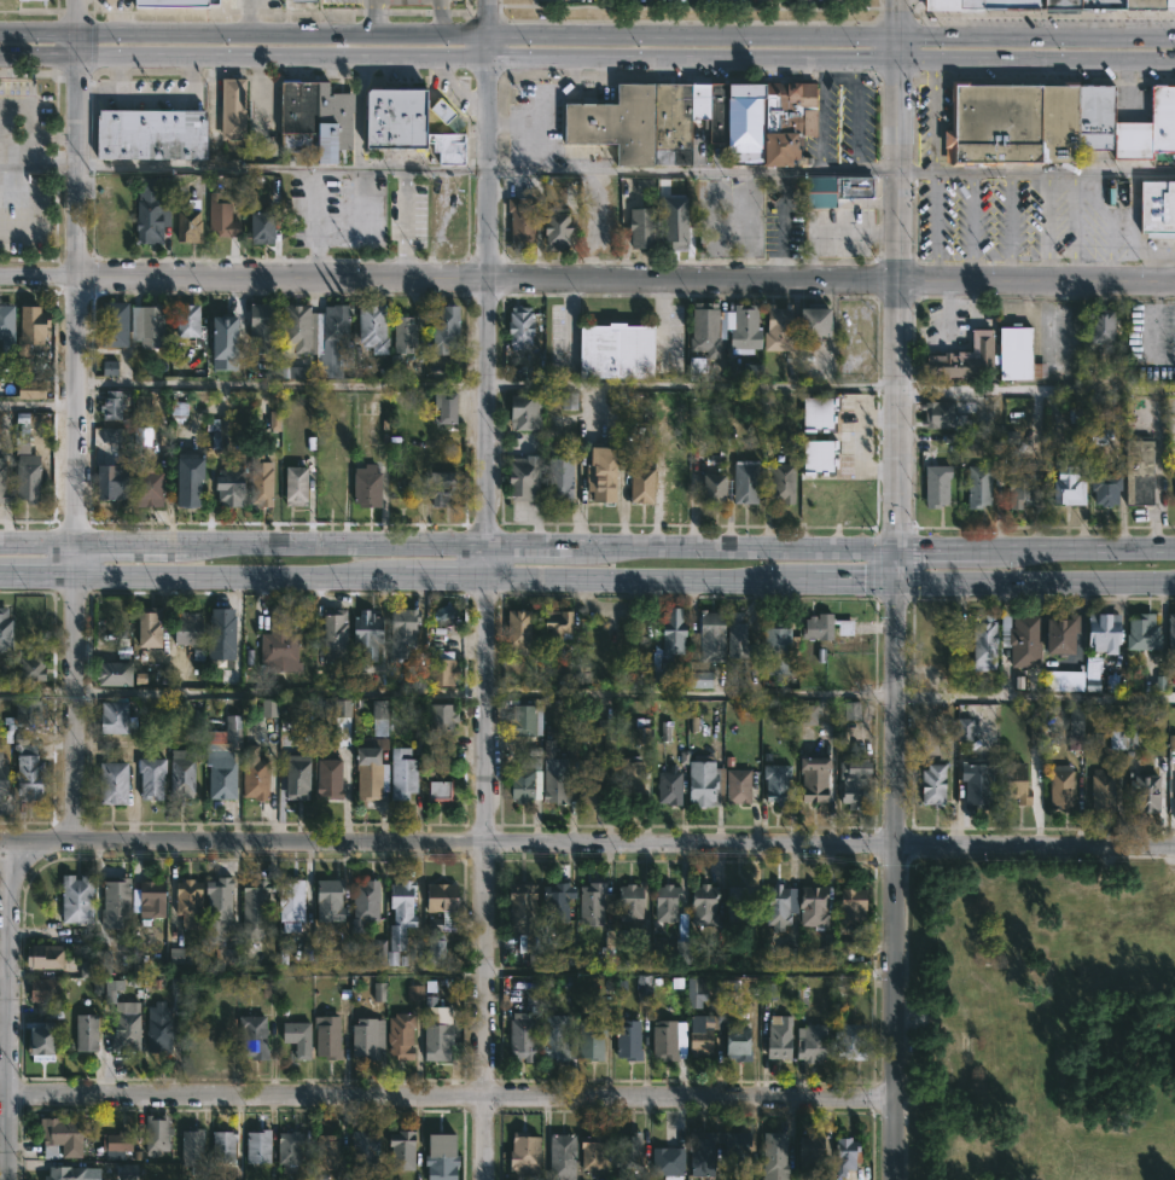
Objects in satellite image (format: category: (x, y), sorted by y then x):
building: (43, 0)
building: (303, 0)
building: (111, 1)
building: (179, 2)
parking lot: (688, 2)
building: (1098, 2)
building: (995, 4)
building: (1058, 4)
building: (938, 5)
building: (1147, 5)
road: (81, 18)
road: (249, 18)
road: (372, 19)
road: (438, 19)
road: (489, 19)
road: (901, 19)
road: (40, 35)
road: (285, 37)
road: (694, 40)
traffic signals: (901, 40)
road: (1037, 40)
road: (81, 46)
road: (489, 48)
road: (901, 50)
road: (40, 56)
road: (285, 57)
road: (694, 59)
traffic signals: (901, 60)
road: (1037, 60)
road: (389, 80)
road: (449, 94)
road: (147, 95)
road: (97, 97)
building: (231, 107)
building: (1094, 116)
building: (1158, 117)
building: (1171, 117)
building: (312, 120)
building: (661, 120)
building: (785, 121)
building: (403, 123)
building: (1010, 124)
building: (155, 134)
building: (1130, 140)
road: (40, 164)
road: (81, 165)
road: (197, 167)
road: (367, 167)
road: (343, 168)
road: (693, 170)
road: (935, 170)
road: (1036, 172)
building: (228, 182)
building: (116, 185)
building: (832, 188)
building: (1115, 192)
building: (1156, 209)
building: (152, 211)
building: (109, 221)
road: (405, 221)
building: (518, 222)
road: (1110, 222)
building: (226, 223)
building: (192, 225)
road: (972, 225)
building: (257, 226)
road: (1010, 226)
road: (1045, 226)
road: (1078, 226)
road: (1134, 226)
building: (553, 227)
building: (638, 227)
building: (671, 231)
road: (1161, 261)
road: (40, 274)
road: (628, 278)
road: (488, 302)
road: (896, 303)
building: (191, 320)
building: (809, 322)
building: (112, 324)
building: (150, 326)
building: (441, 326)
building: (516, 326)
building: (1095, 326)
building: (8, 327)
building: (257, 327)
building: (368, 327)
building: (741, 327)
building: (704, 329)
building: (775, 329)
building: (35, 330)
building: (295, 330)
building: (402, 335)
building: (327, 341)
building: (225, 343)
building: (612, 350)
building: (1014, 354)
building: (961, 359)
building: (109, 368)
building: (295, 372)
road: (283, 380)
road: (692, 383)
building: (34, 389)
road: (1035, 389)
building: (569, 400)
road: (39, 405)
building: (114, 406)
road: (77, 407)
building: (444, 407)
building: (518, 412)
building: (818, 412)
building: (941, 417)
building: (274, 420)
building: (111, 434)
building: (1097, 437)
building: (819, 455)
building: (109, 473)
building: (1136, 473)
building: (598, 475)
building: (519, 477)
building: (185, 479)
building: (557, 479)
building: (743, 481)
building: (30, 482)
building: (781, 482)
building: (5, 483)
building: (260, 483)
building: (674, 483)
building: (1174, 483)
building: (227, 484)
building: (640, 484)
building: (935, 484)
building: (1019, 486)
building: (291, 487)
building: (362, 487)
building: (978, 487)
building: (1065, 487)
building: (436, 488)
building: (711, 488)
building: (151, 489)
building: (1103, 489)
road: (37, 539)
road: (122, 540)
road: (328, 544)
road: (531, 547)
road: (734, 547)
traffic signals: (894, 548)
road: (941, 548)
road: (1082, 550)
road: (76, 553)
road: (488, 560)
road: (894, 562)
road: (39, 565)
road: (240, 570)
road: (446, 575)
road: (651, 576)
road: (854, 576)
traffic signals: (894, 576)
road: (1034, 577)
building: (554, 623)
building: (816, 627)
building: (152, 628)
building: (186, 628)
building: (6, 630)
building: (518, 630)
building: (399, 632)
building: (1100, 633)
building: (1140, 633)
building: (1170, 633)
building: (219, 634)
building: (328, 634)
building: (363, 634)
building: (1059, 635)
building: (737, 638)
building: (669, 639)
building: (1020, 640)
building: (983, 643)
building: (277, 646)
building: (702, 649)
building: (776, 649)
building: (850, 665)
building: (554, 668)
building: (35, 669)
building: (438, 673)
building: (111, 674)
building: (415, 674)
building: (1063, 680)
road: (37, 690)
road: (1034, 691)
road: (281, 692)
road: (690, 692)
road: (76, 703)
building: (268, 708)
building: (851, 710)
building: (31, 711)
building: (807, 714)
building: (111, 717)
building: (376, 719)
building: (338, 720)
building: (437, 720)
building: (520, 721)
building: (1075, 728)
building: (605, 729)
building: (964, 729)
building: (665, 731)
building: (1035, 734)
building: (231, 736)
building: (641, 736)
building: (1117, 739)
building: (1171, 740)
building: (30, 769)
building: (185, 773)
building: (366, 773)
building: (5, 774)
building: (216, 774)
building: (251, 774)
building: (399, 774)
building: (292, 777)
building: (325, 778)
building: (155, 779)
building: (627, 779)
building: (809, 779)
building: (589, 783)
building: (700, 783)
building: (773, 783)
building: (116, 784)
building: (851, 784)
building: (932, 784)
building: (975, 784)
building: (1012, 784)
building: (519, 786)
building: (553, 786)
building: (737, 786)
building: (1060, 786)
building: (436, 787)
building: (665, 787)
building: (1101, 790)
building: (1144, 792)
road: (587, 843)
road: (485, 877)
road: (892, 878)
building: (155, 896)
building: (75, 899)
building: (437, 899)
building: (186, 900)
building: (626, 900)
building: (286, 901)
building: (325, 901)
building: (553, 902)
building: (116, 903)
building: (663, 903)
building: (703, 903)
building: (849, 903)
building: (217, 905)
building: (360, 905)
building: (518, 905)
building: (587, 905)
building: (775, 905)
building: (810, 905)
building: (250, 908)
building: (738, 908)
building: (397, 914)
building: (136, 952)
building: (434, 952)
building: (787, 954)
building: (45, 955)
building: (175, 955)
building: (227, 955)
building: (97, 964)
building: (644, 987)
building: (41, 988)
building: (267, 990)
building: (768, 990)
building: (379, 992)
building: (414, 992)
building: (696, 993)
building: (531, 996)
road: (8, 1010)
building: (123, 1027)
building: (156, 1028)
building: (85, 1031)
building: (397, 1034)
building: (698, 1034)
building: (250, 1035)
building: (324, 1036)
building: (519, 1036)
building: (551, 1036)
building: (293, 1037)
building: (591, 1037)
building: (734, 1037)
building: (39, 1039)
building: (361, 1039)
building: (624, 1039)
building: (775, 1039)
building: (847, 1039)
building: (434, 1040)
building: (663, 1040)
building: (809, 1041)
road: (450, 1098)
building: (157, 1135)
building: (58, 1137)
building: (118, 1141)
building: (222, 1144)
building: (196, 1146)
building: (254, 1147)
building: (285, 1149)
building: (397, 1149)
building: (626, 1149)
building: (733, 1149)
building: (589, 1150)
building: (322, 1151)
building: (360, 1151)
building: (808, 1151)
building: (520, 1152)
building: (698, 1152)
building: (772, 1155)
building: (844, 1155)
building: (436, 1156)
building: (558, 1157)
building: (665, 1161)
building: (70, 1173)

